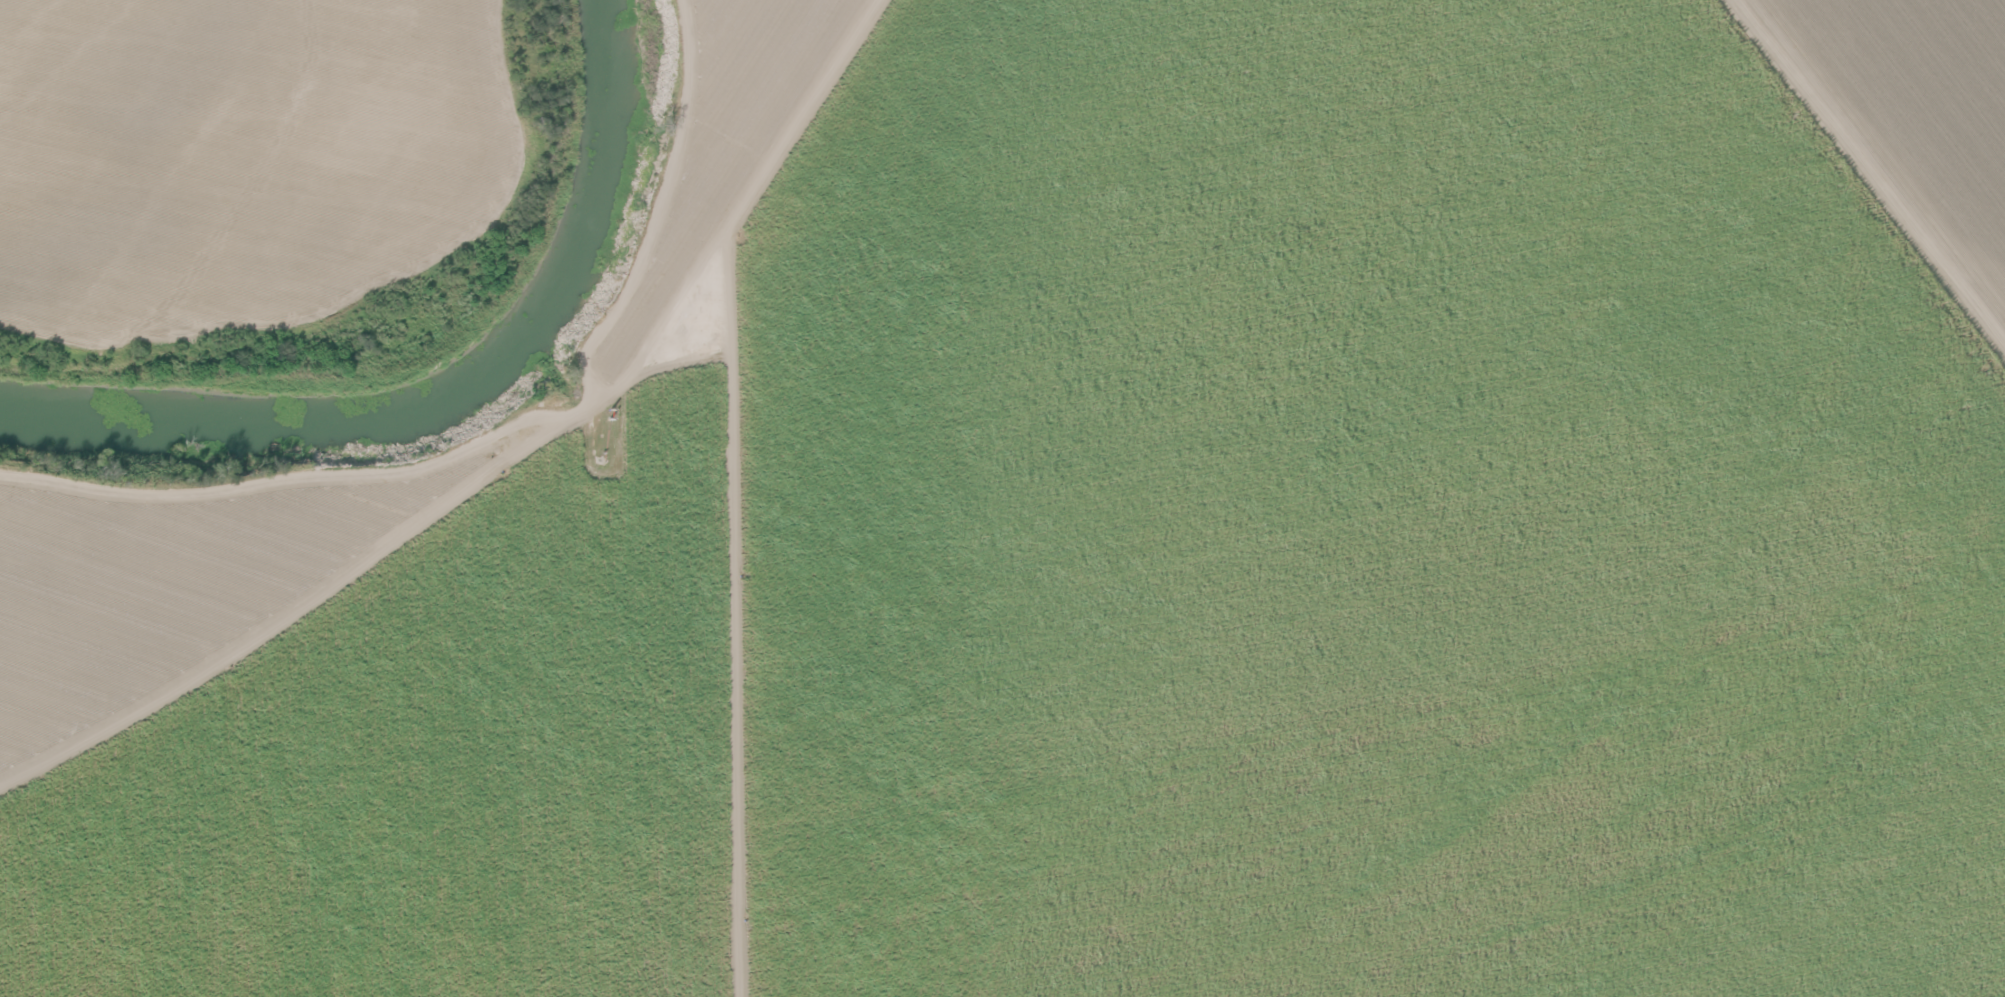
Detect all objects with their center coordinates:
road: (1873, 167)
road: (655, 201)
river: (441, 385)
road: (504, 463)
road: (268, 481)
road: (729, 632)

